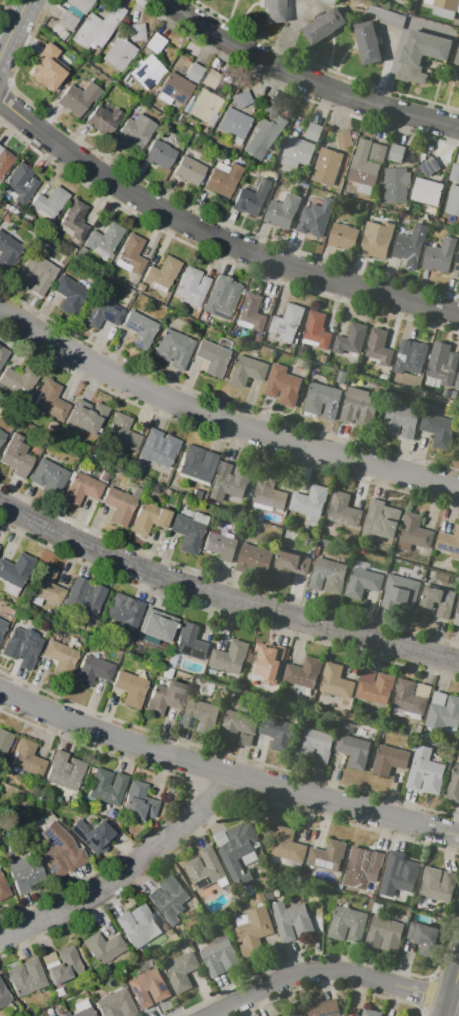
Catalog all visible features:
building: (330, 2)
building: (444, 7)
building: (274, 11)
building: (74, 12)
building: (324, 25)
building: (98, 27)
building: (137, 32)
road: (289, 34)
road: (17, 35)
building: (367, 42)
building: (155, 43)
building: (420, 53)
building: (119, 55)
building: (457, 58)
building: (47, 68)
building: (148, 71)
building: (195, 73)
road: (310, 76)
building: (211, 79)
building: (175, 89)
building: (79, 98)
building: (242, 99)
building: (205, 107)
building: (270, 108)
building: (104, 120)
building: (234, 125)
building: (313, 132)
building: (135, 133)
building: (264, 137)
building: (344, 139)
building: (297, 152)
building: (377, 153)
building: (395, 153)
building: (160, 154)
building: (5, 161)
building: (363, 165)
building: (328, 166)
building: (429, 167)
building: (189, 171)
building: (454, 173)
building: (223, 179)
building: (19, 183)
building: (395, 185)
building: (427, 192)
building: (453, 201)
building: (248, 202)
building: (49, 203)
building: (282, 211)
building: (316, 217)
building: (74, 221)
road: (216, 236)
building: (342, 236)
building: (376, 239)
building: (105, 240)
building: (410, 244)
building: (9, 252)
building: (131, 255)
building: (440, 255)
building: (456, 269)
building: (37, 274)
building: (162, 274)
building: (192, 286)
building: (69, 294)
building: (223, 303)
building: (102, 313)
building: (251, 314)
building: (286, 323)
building: (140, 330)
building: (316, 332)
building: (258, 338)
building: (351, 339)
building: (378, 348)
building: (174, 349)
building: (3, 355)
building: (213, 357)
building: (411, 357)
building: (443, 363)
building: (246, 371)
building: (19, 380)
building: (457, 383)
building: (282, 385)
building: (322, 399)
building: (51, 400)
building: (359, 408)
building: (87, 417)
building: (400, 420)
road: (218, 422)
building: (438, 430)
building: (122, 433)
building: (1, 436)
building: (160, 450)
building: (16, 456)
building: (196, 463)
building: (146, 472)
building: (49, 477)
building: (104, 477)
building: (229, 481)
building: (82, 489)
building: (269, 493)
building: (197, 494)
building: (310, 501)
building: (121, 505)
building: (343, 510)
building: (149, 518)
building: (383, 521)
building: (189, 530)
building: (414, 533)
building: (449, 543)
building: (221, 545)
building: (254, 560)
building: (289, 566)
building: (15, 573)
building: (328, 576)
building: (362, 583)
building: (46, 586)
building: (403, 590)
building: (85, 596)
road: (224, 596)
building: (436, 600)
building: (125, 611)
building: (456, 616)
building: (2, 626)
building: (157, 626)
building: (190, 641)
building: (22, 647)
building: (230, 657)
building: (60, 658)
building: (262, 666)
building: (93, 670)
building: (303, 675)
building: (335, 681)
building: (375, 687)
building: (131, 688)
building: (166, 697)
building: (410, 697)
building: (443, 711)
building: (201, 716)
building: (238, 727)
building: (278, 732)
building: (5, 742)
building: (314, 744)
building: (353, 751)
building: (28, 758)
building: (389, 759)
building: (65, 771)
building: (425, 772)
road: (225, 775)
building: (108, 786)
building: (453, 786)
building: (139, 801)
building: (94, 835)
building: (220, 837)
building: (286, 846)
building: (61, 850)
building: (239, 851)
building: (327, 856)
building: (362, 866)
building: (205, 868)
building: (25, 874)
road: (125, 875)
building: (400, 878)
building: (438, 884)
building: (3, 889)
building: (273, 895)
building: (169, 899)
building: (241, 919)
building: (292, 921)
building: (347, 924)
building: (138, 926)
building: (255, 931)
building: (384, 934)
building: (425, 937)
building: (105, 948)
building: (219, 955)
building: (63, 965)
building: (181, 970)
road: (327, 971)
building: (26, 977)
building: (148, 988)
road: (452, 993)
building: (4, 994)
building: (116, 1004)
building: (324, 1008)
building: (81, 1009)
building: (370, 1012)
building: (292, 1014)
building: (275, 1015)
building: (344, 1015)
building: (346, 1015)

